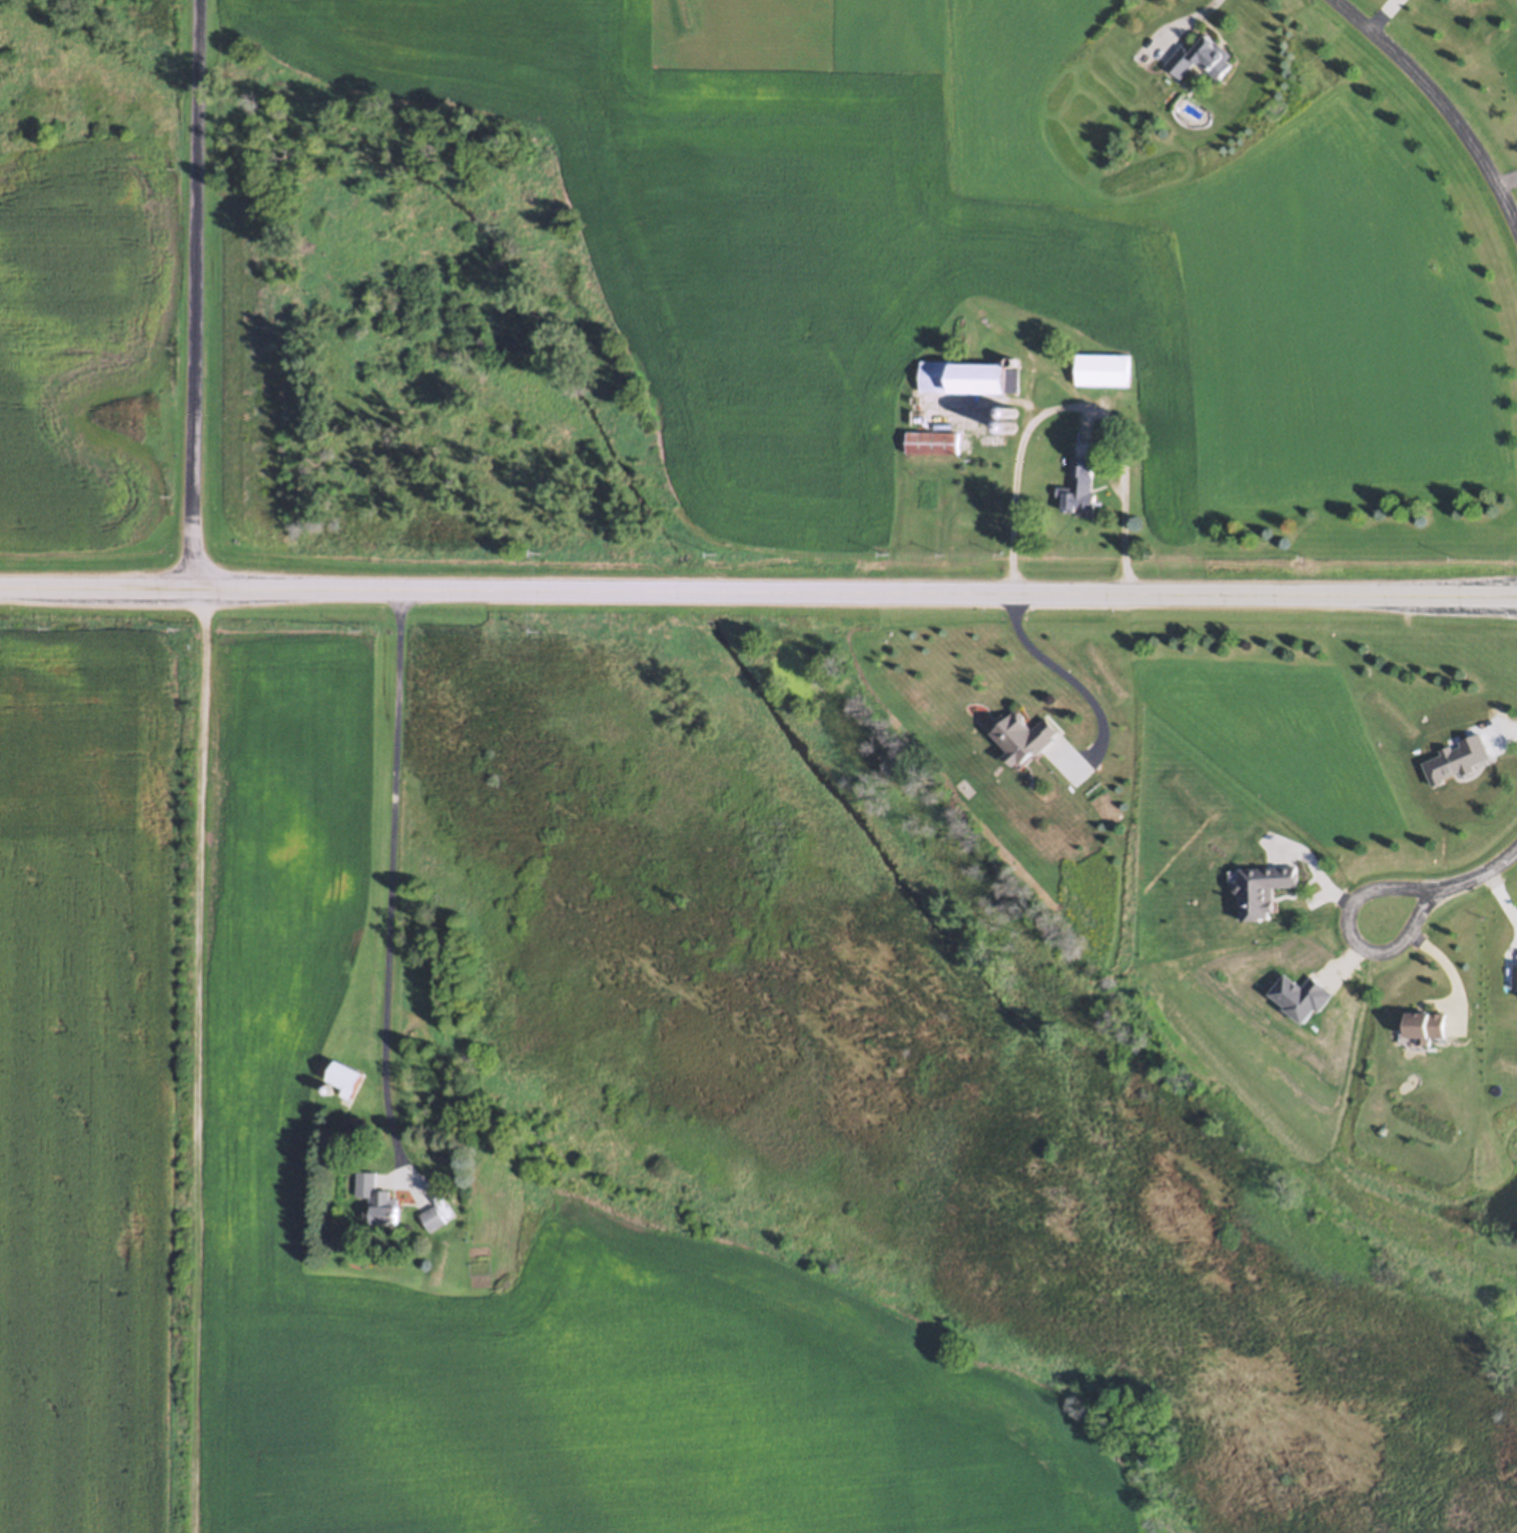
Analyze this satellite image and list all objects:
road: (1382, 16)
road: (1189, 19)
building: (1203, 62)
road: (1438, 101)
road: (1508, 184)
road: (199, 293)
building: (1106, 371)
building: (970, 379)
road: (1071, 407)
building: (933, 444)
building: (1084, 487)
road: (758, 590)
road: (1071, 678)
building: (1028, 740)
road: (1478, 876)
road: (393, 887)
building: (1266, 890)
road: (1349, 935)
building: (1432, 1026)
building: (356, 1080)
building: (381, 1202)
building: (440, 1218)

